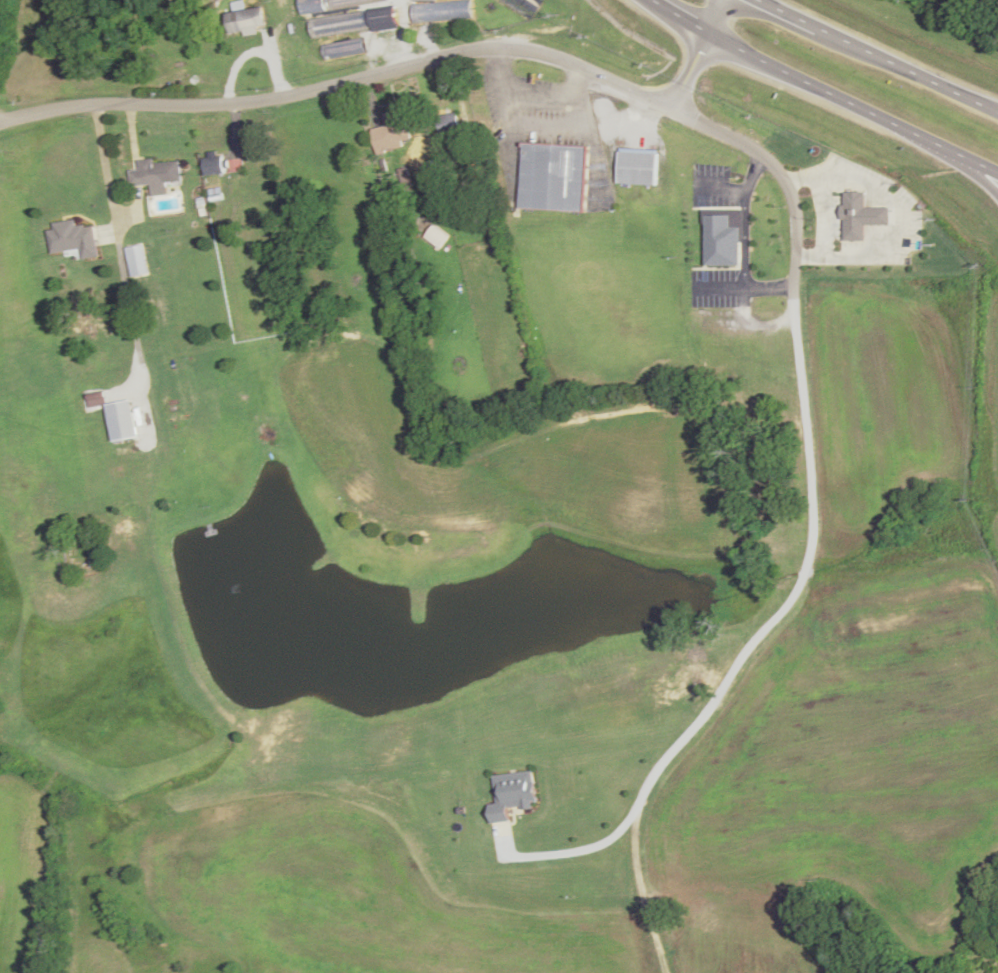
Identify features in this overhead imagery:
building: (441, 11)
road: (788, 14)
road: (679, 16)
building: (246, 21)
building: (355, 23)
road: (695, 50)
road: (907, 70)
road: (338, 82)
road: (851, 102)
road: (990, 107)
building: (449, 126)
building: (394, 132)
building: (221, 166)
building: (637, 169)
road: (972, 170)
building: (156, 176)
building: (554, 178)
building: (851, 211)
building: (74, 239)
road: (659, 247)
building: (136, 261)
building: (120, 421)
building: (513, 795)

